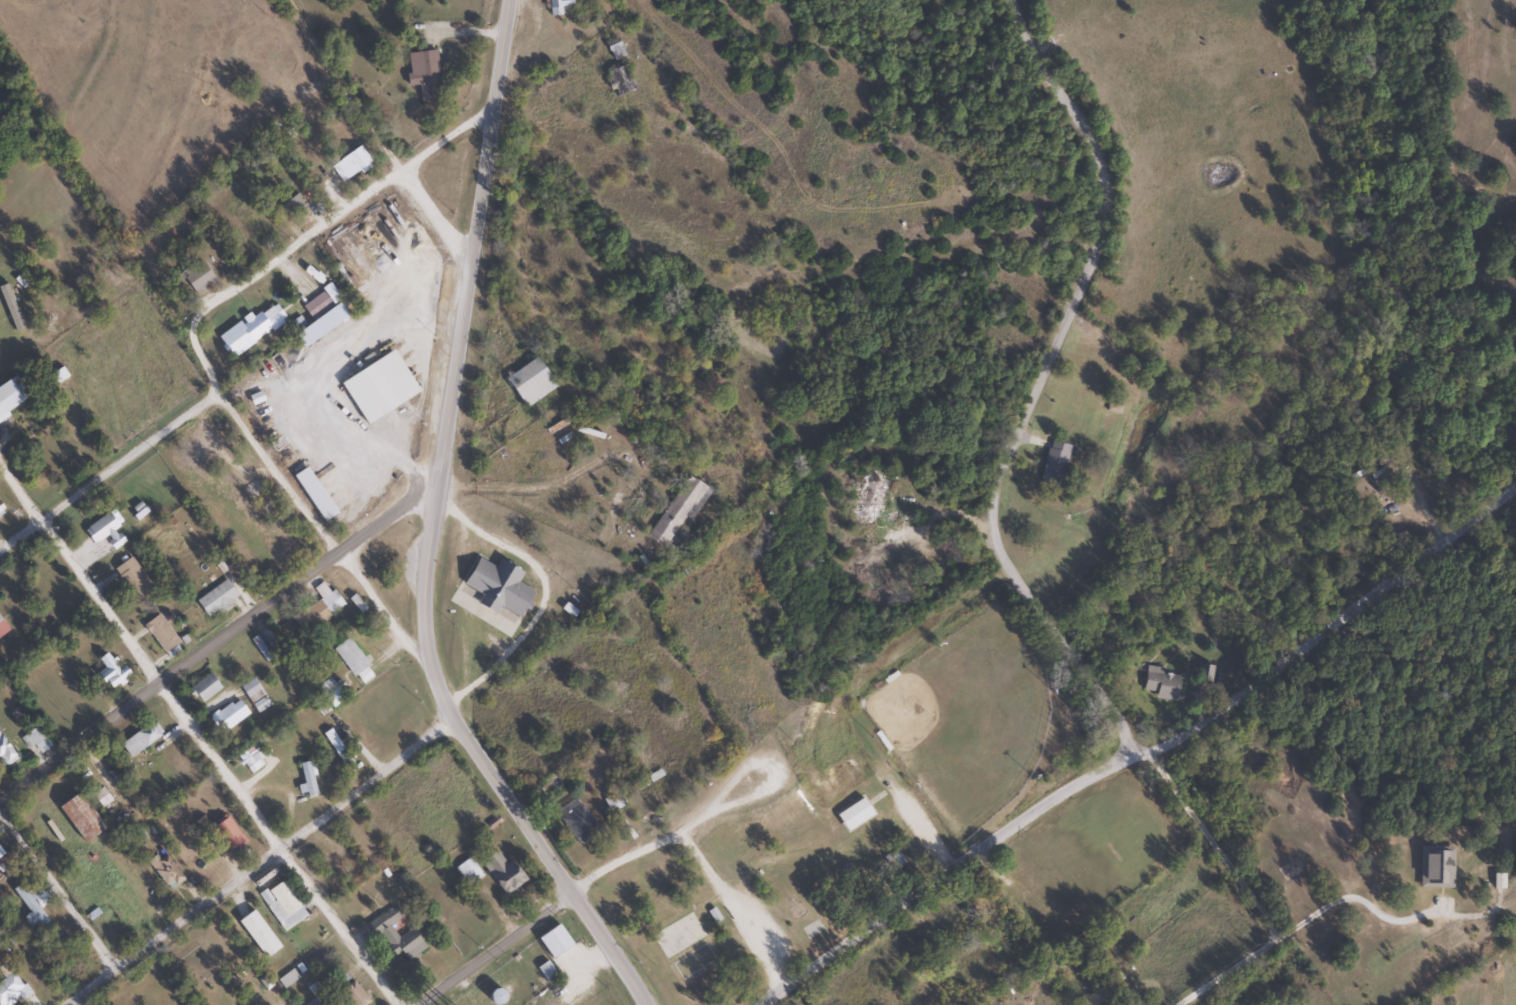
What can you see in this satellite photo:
building: (556, 6)
building: (613, 49)
building: (422, 74)
building: (618, 80)
road: (359, 140)
building: (349, 164)
building: (293, 206)
road: (301, 228)
building: (194, 277)
building: (318, 303)
road: (462, 327)
building: (248, 330)
building: (58, 375)
building: (527, 383)
road: (1013, 388)
building: (365, 394)
building: (47, 456)
building: (192, 457)
building: (1053, 464)
road: (109, 471)
building: (251, 490)
building: (866, 496)
building: (266, 510)
building: (1, 511)
building: (672, 512)
road: (326, 525)
building: (102, 529)
building: (132, 578)
building: (494, 587)
building: (215, 598)
building: (316, 608)
building: (2, 627)
building: (159, 632)
road: (227, 635)
building: (349, 655)
building: (110, 672)
building: (1203, 672)
building: (1161, 685)
building: (202, 688)
building: (333, 694)
building: (254, 695)
building: (227, 715)
road: (1151, 736)
road: (195, 737)
building: (35, 740)
building: (336, 748)
building: (5, 754)
building: (251, 757)
building: (306, 778)
building: (613, 801)
park: (853, 803)
building: (853, 814)
building: (78, 817)
building: (578, 823)
building: (225, 832)
road: (532, 832)
building: (1, 854)
road: (262, 867)
building: (163, 870)
building: (467, 871)
building: (501, 872)
road: (591, 880)
road: (1243, 884)
road: (57, 891)
building: (30, 903)
building: (281, 904)
building: (384, 932)
railway: (52, 946)
railway: (1433, 960)
building: (545, 971)
building: (286, 978)
building: (9, 986)
building: (351, 994)
building: (492, 995)
building: (1099, 996)
building: (312, 1002)

